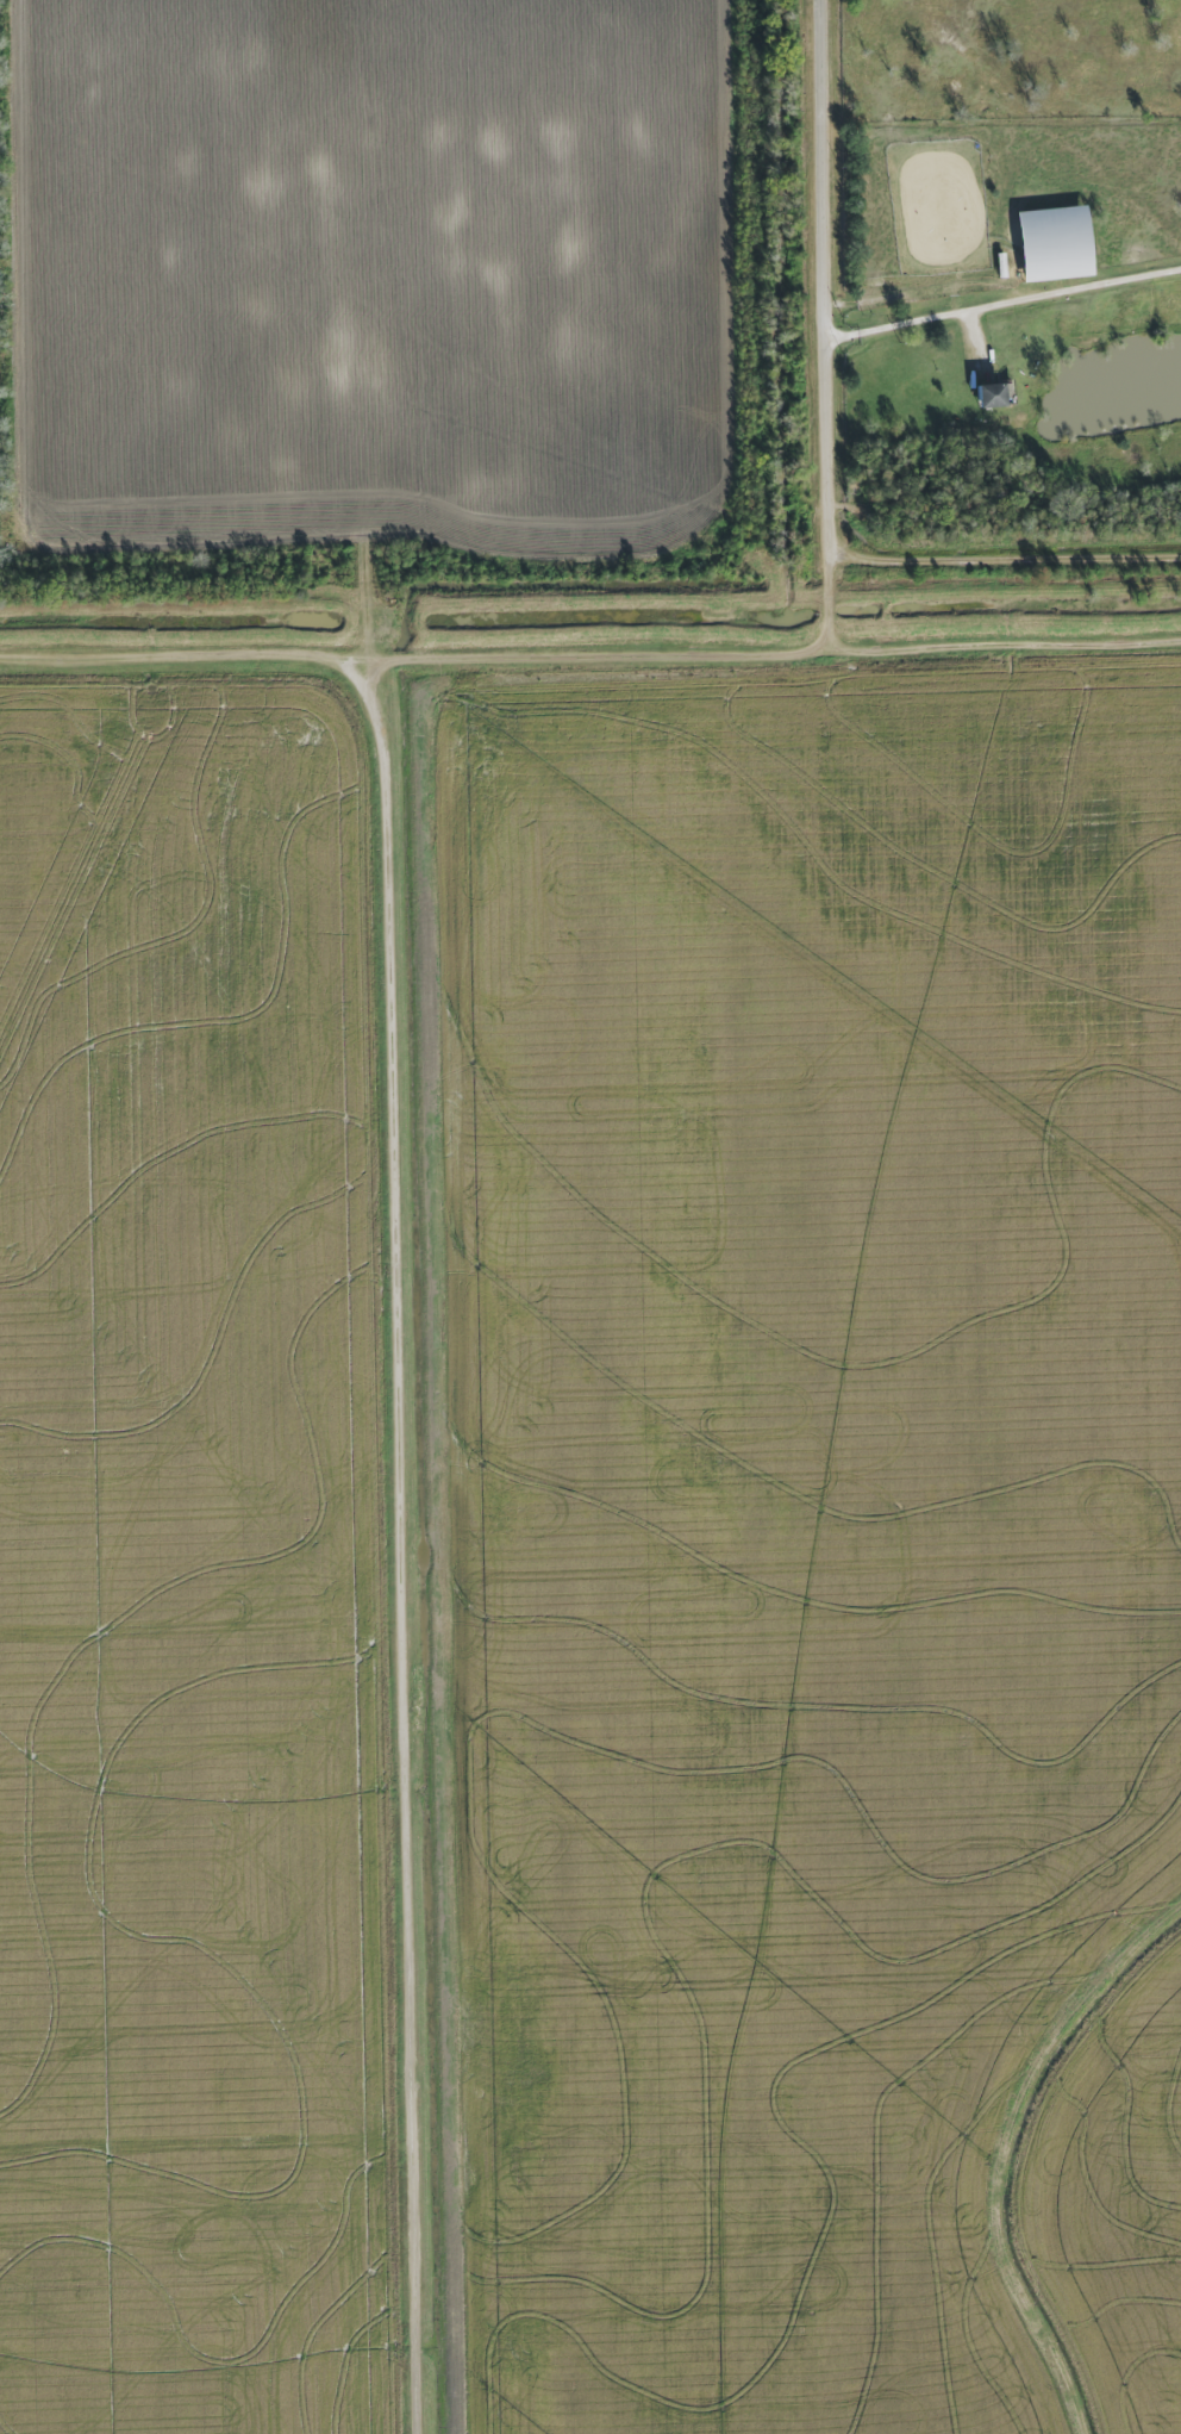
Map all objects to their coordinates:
building: (1051, 243)
road: (827, 297)
road: (929, 297)
road: (1004, 303)
building: (988, 396)
road: (835, 614)
road: (594, 660)
road: (402, 1546)

